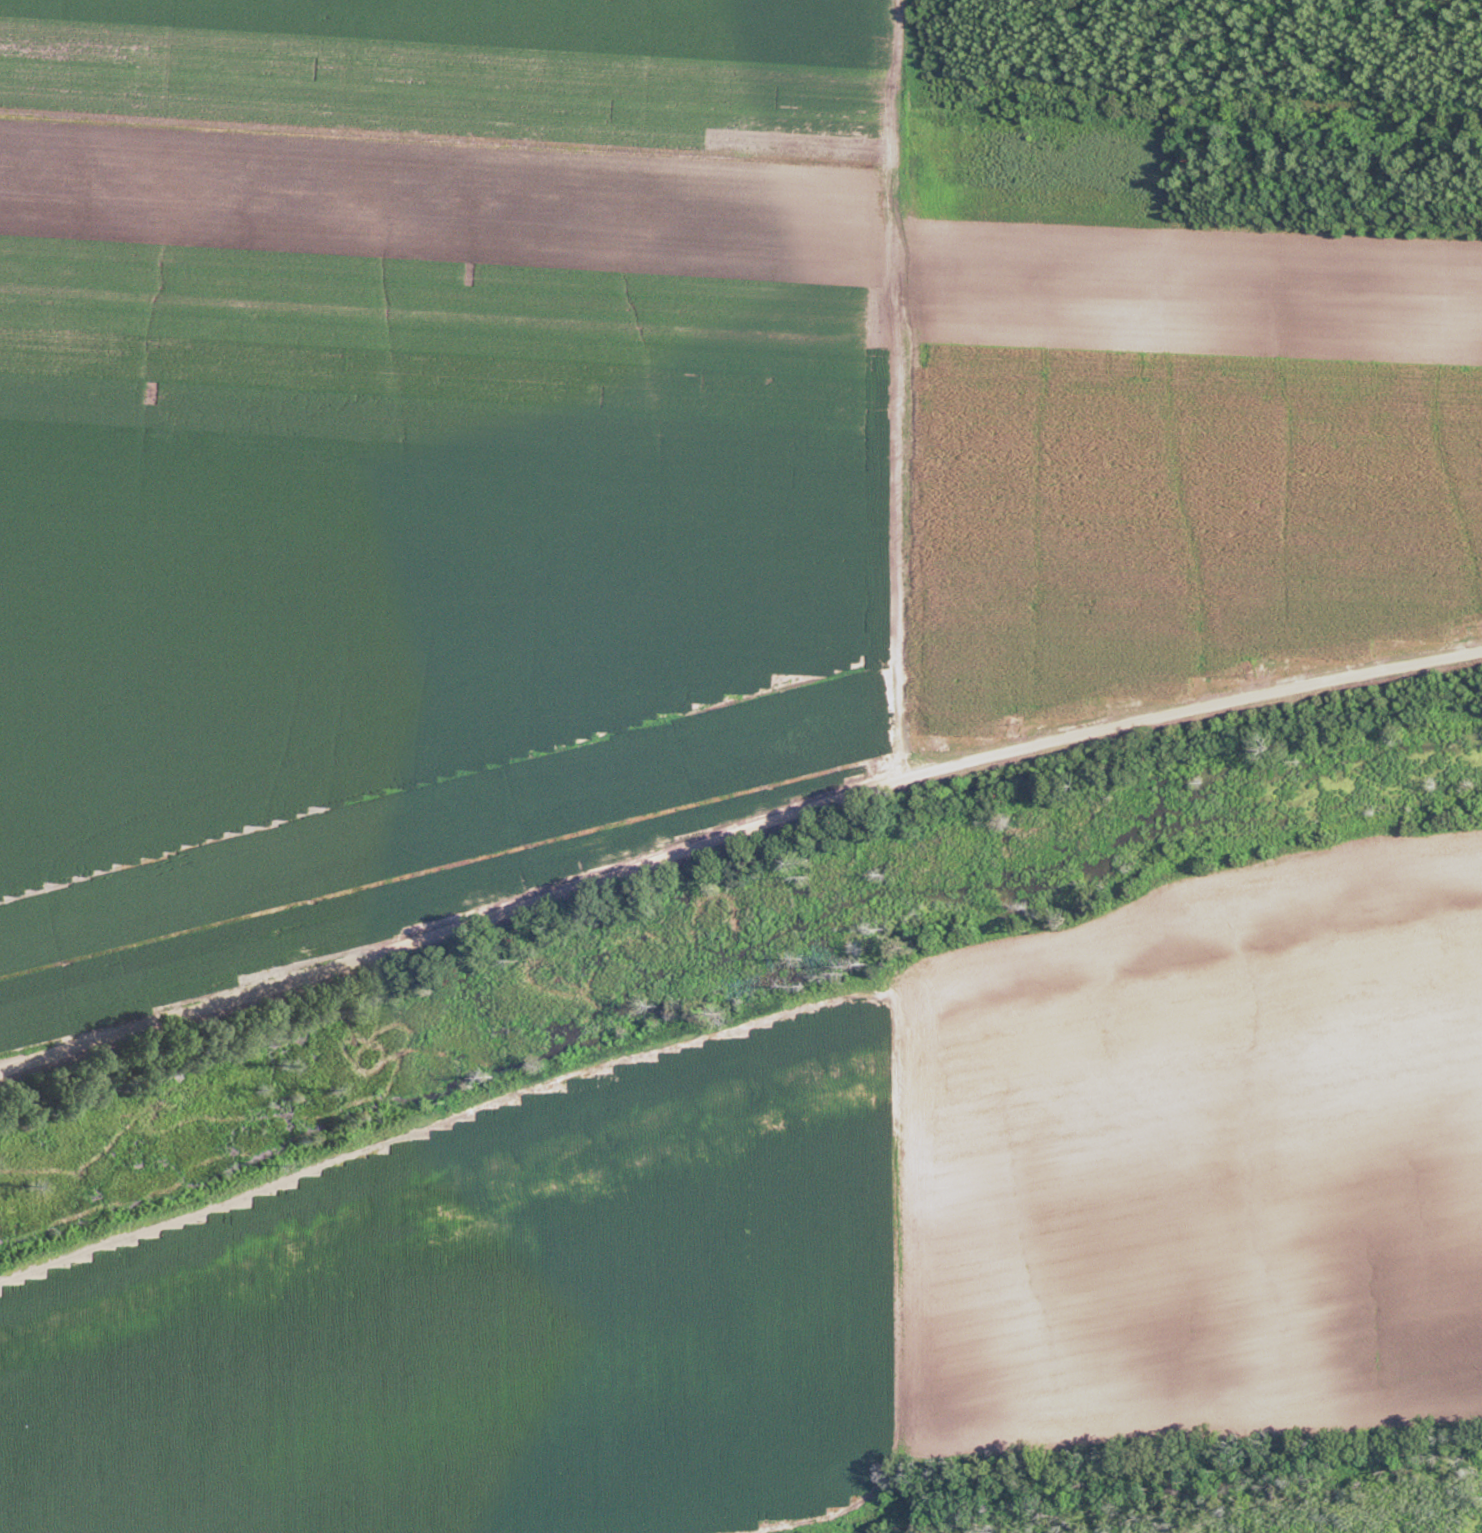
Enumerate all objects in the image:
road: (899, 390)
road: (732, 833)

